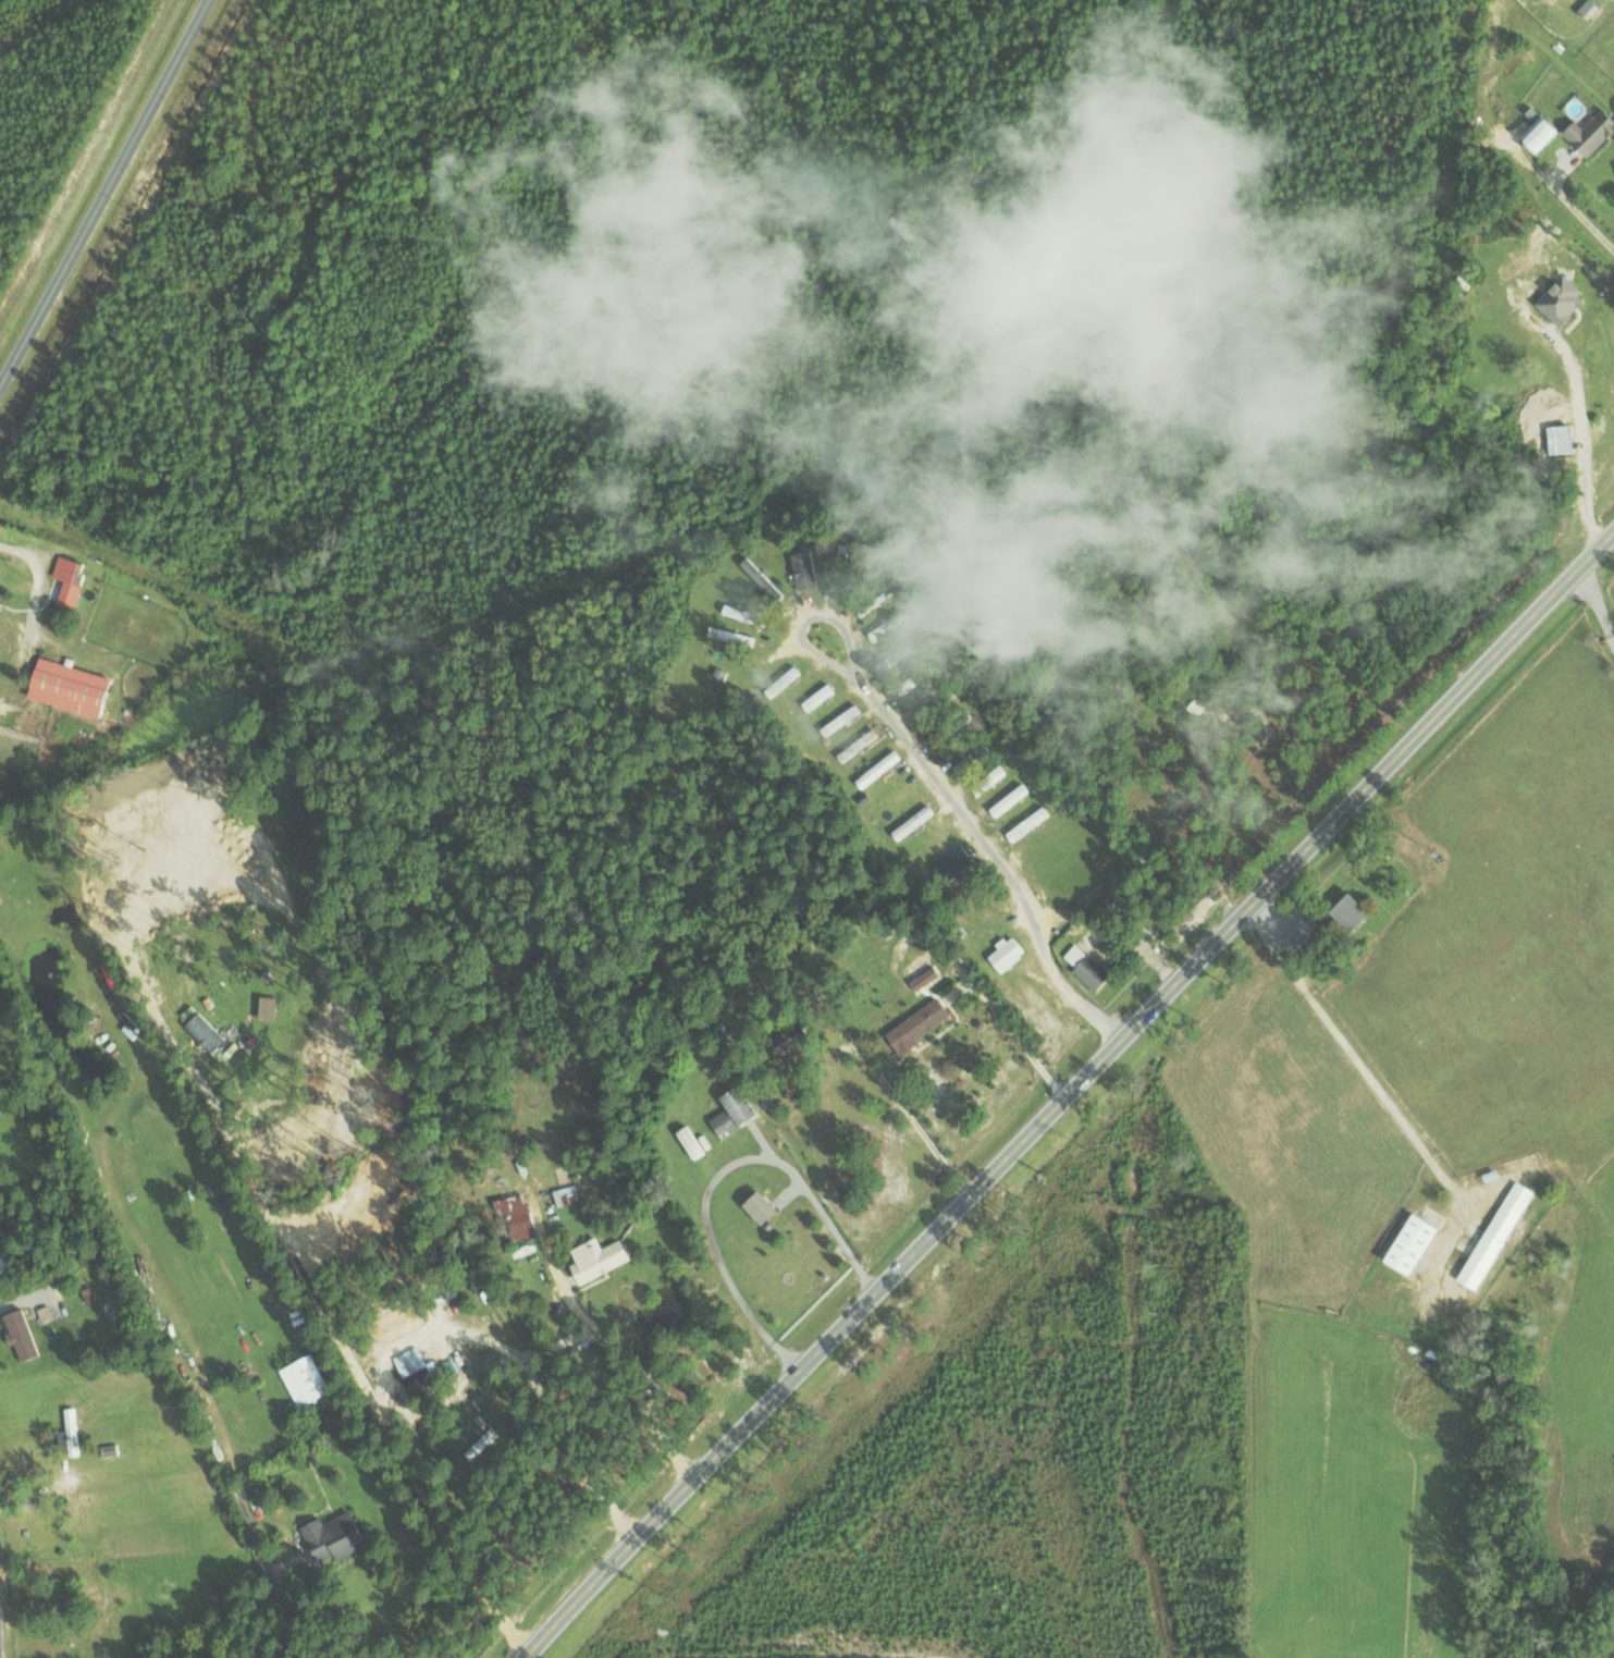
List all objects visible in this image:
building: (1587, 131)
building: (1535, 134)
road: (104, 191)
building: (1556, 299)
building: (1555, 438)
building: (809, 569)
building: (760, 575)
road: (37, 579)
building: (837, 579)
building: (71, 580)
building: (0, 603)
building: (746, 614)
building: (888, 627)
building: (729, 634)
building: (897, 656)
building: (76, 687)
building: (821, 696)
road: (938, 779)
building: (1012, 798)
building: (960, 865)
building: (1343, 910)
building: (1011, 953)
building: (1089, 967)
building: (921, 969)
building: (271, 1007)
building: (923, 1024)
building: (210, 1032)
building: (804, 1039)
road: (1067, 1092)
building: (738, 1112)
building: (697, 1142)
building: (569, 1195)
building: (767, 1207)
building: (1491, 1236)
road: (281, 1242)
building: (1405, 1244)
building: (602, 1258)
building: (47, 1314)
building: (26, 1335)
building: (422, 1374)
building: (310, 1380)
building: (72, 1433)
building: (340, 1535)
building: (104, 1650)

